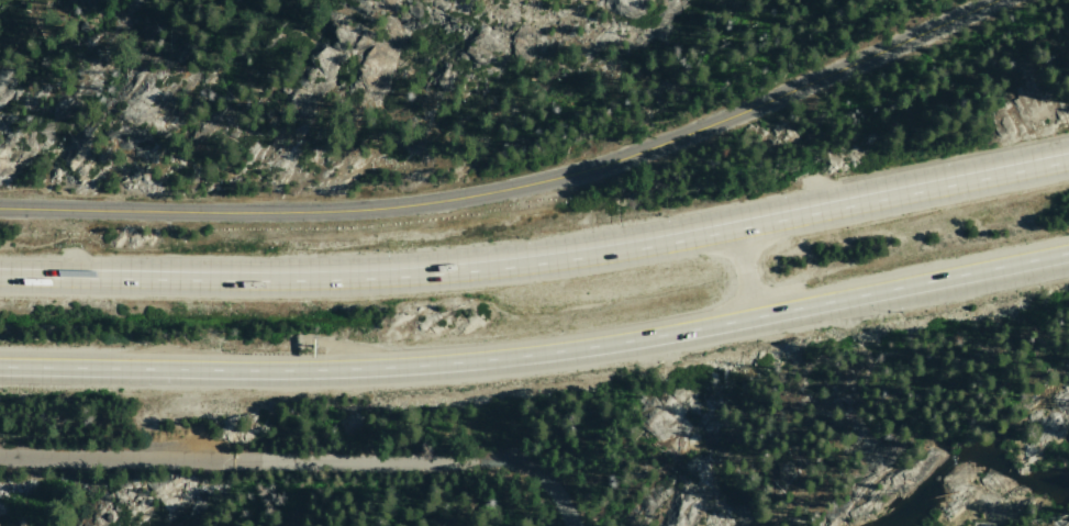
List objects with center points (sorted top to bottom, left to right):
road: (514, 187)
road: (538, 259)
road: (538, 354)
road: (112, 457)
road: (409, 463)
river: (1002, 501)

